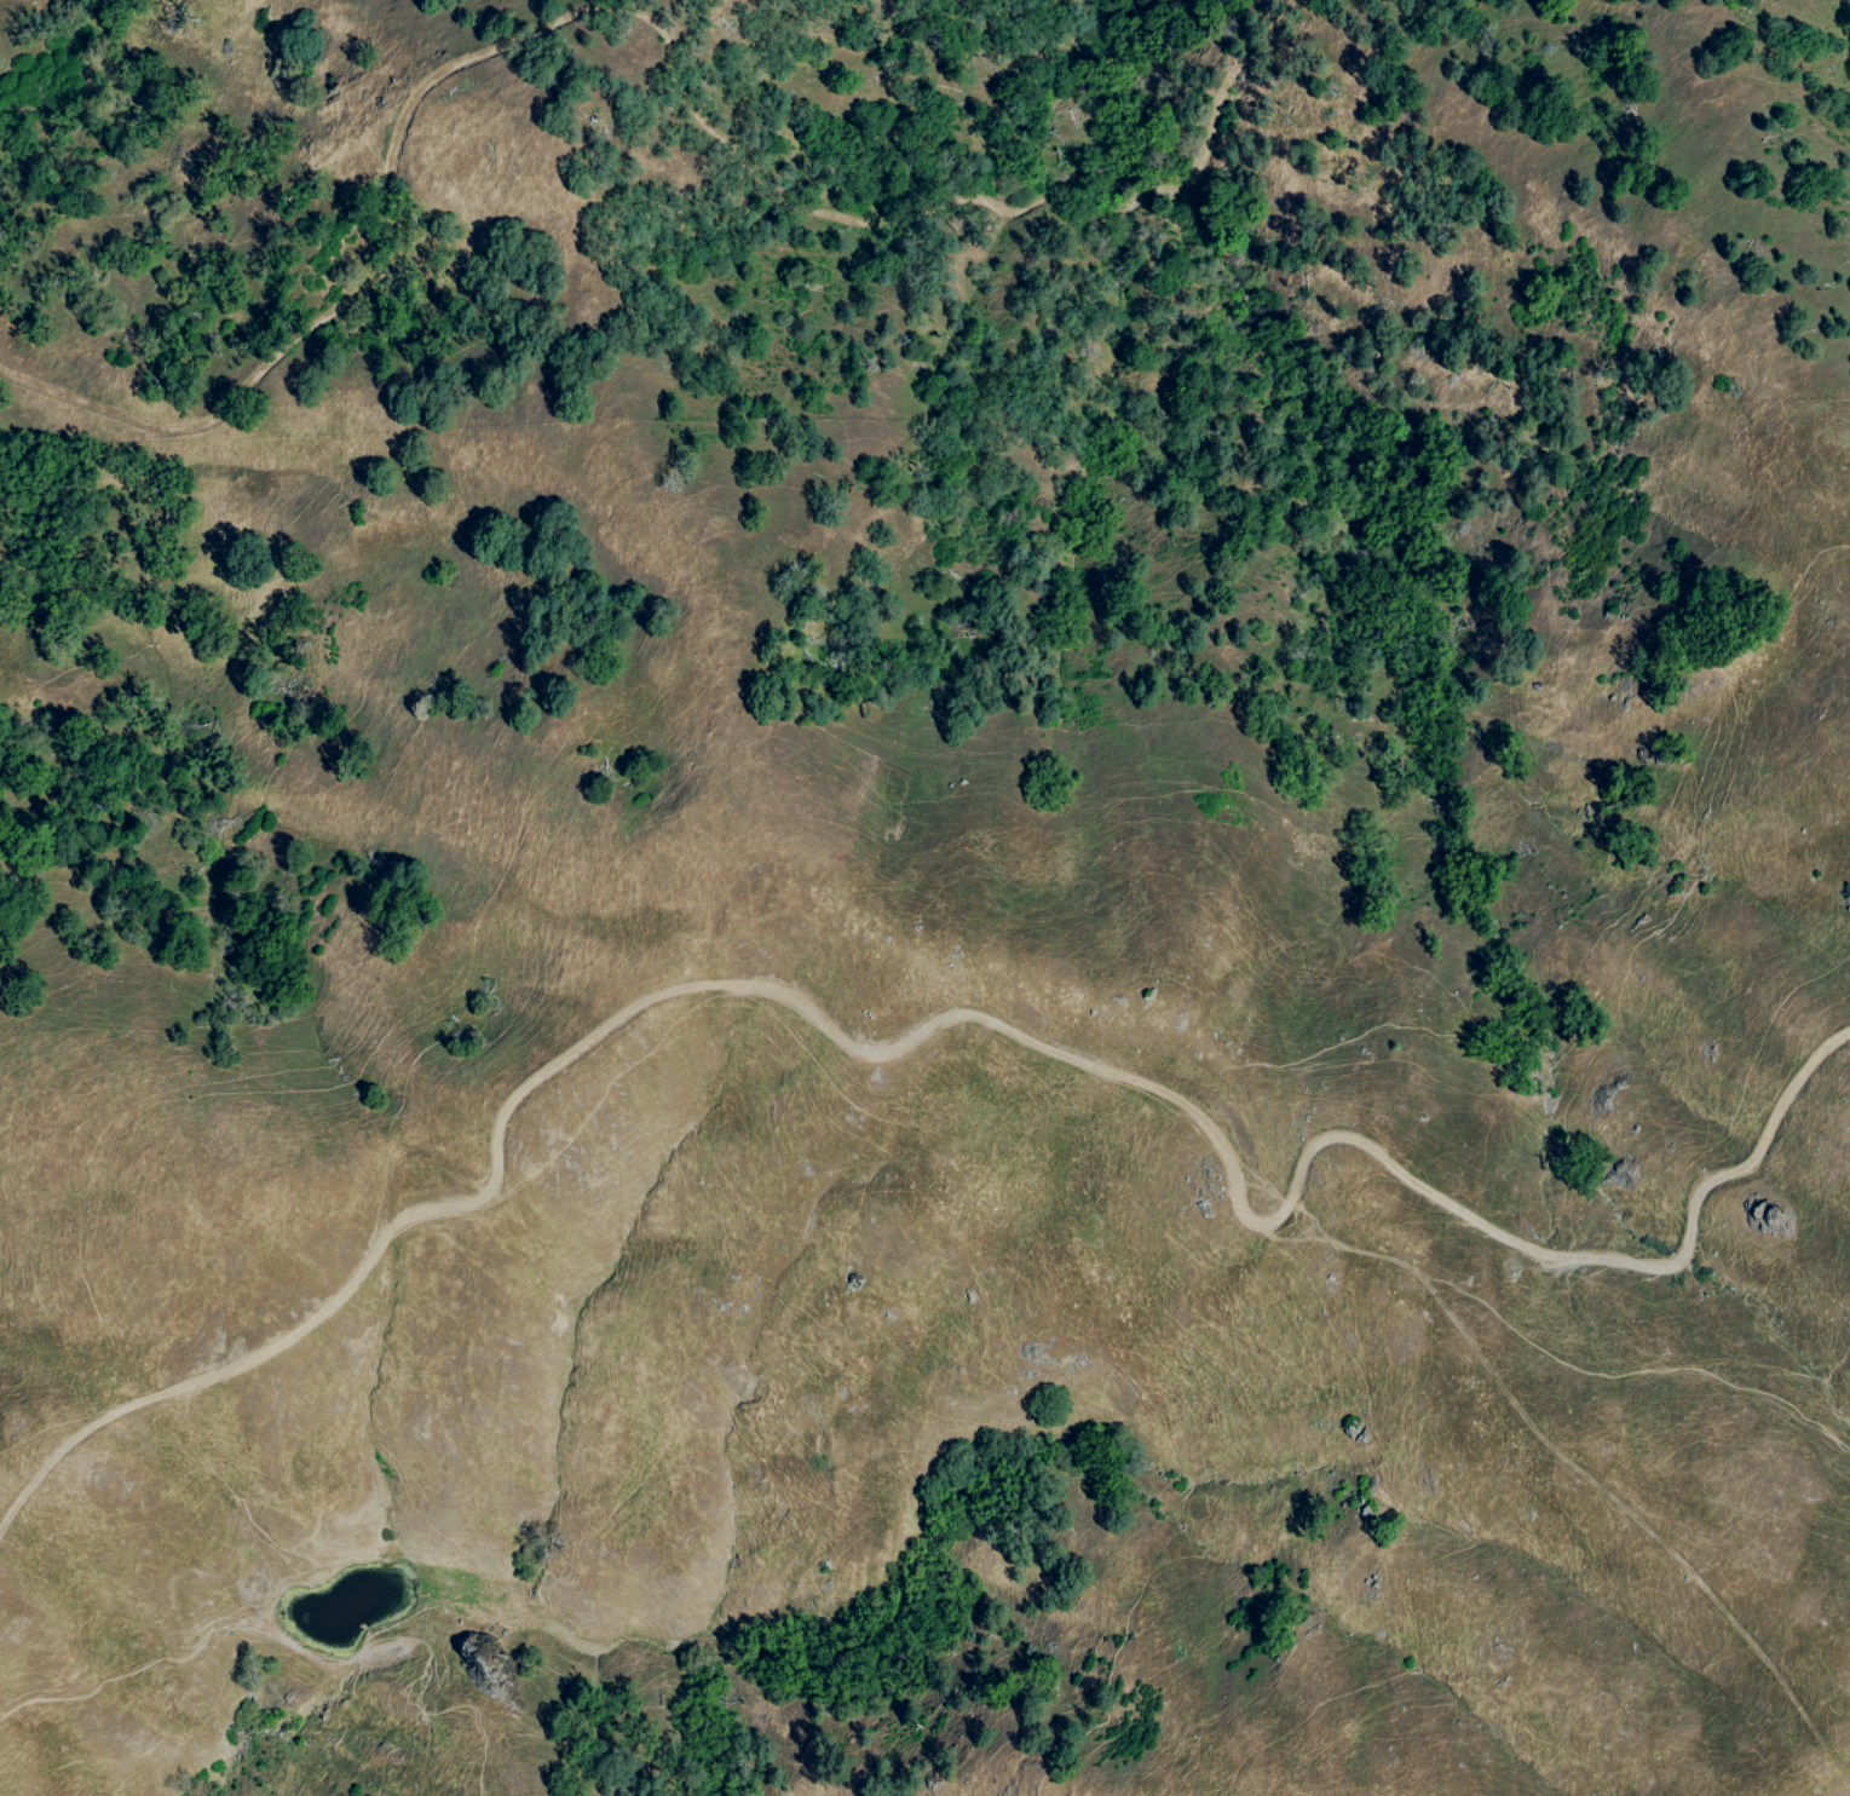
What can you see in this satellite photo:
road: (950, 1020)

